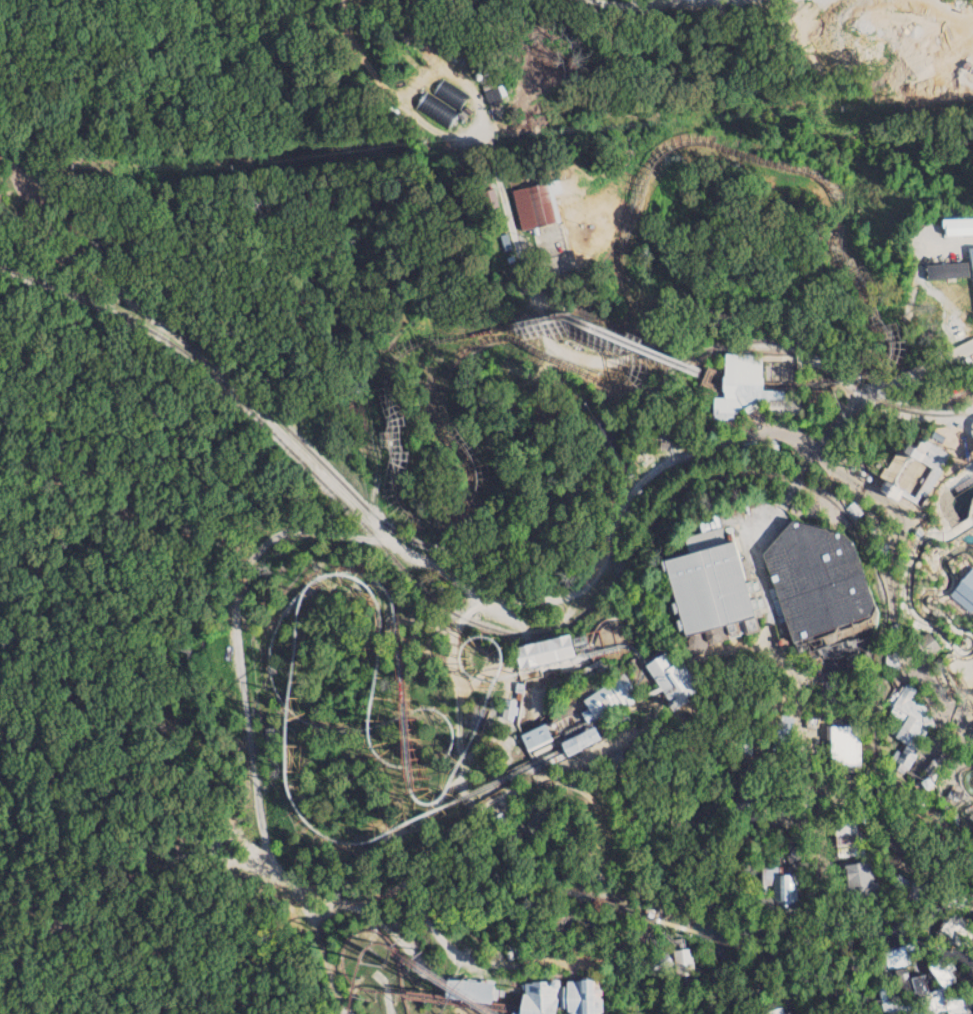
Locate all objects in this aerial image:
building: (449, 94)
building: (435, 109)
building: (531, 206)
building: (959, 227)
building: (971, 254)
building: (949, 270)
road: (921, 367)
building: (747, 389)
road: (972, 412)
road: (763, 420)
road: (732, 430)
road: (826, 434)
road: (864, 503)
building: (853, 510)
theme park: (639, 550)
road: (753, 550)
railway: (314, 578)
building: (814, 581)
building: (706, 584)
road: (514, 605)
building: (835, 636)
railway: (291, 638)
railway: (378, 639)
railway: (457, 648)
building: (925, 648)
building: (541, 652)
railway: (587, 654)
road: (743, 660)
road: (848, 662)
road: (912, 672)
road: (810, 675)
building: (670, 679)
railway: (486, 692)
railway: (276, 694)
road: (939, 694)
railway: (283, 696)
building: (608, 699)
railway: (399, 702)
road: (457, 703)
road: (812, 706)
road: (679, 708)
railway: (592, 711)
road: (743, 712)
railway: (363, 716)
railway: (399, 716)
road: (249, 718)
building: (908, 724)
railway: (362, 726)
road: (967, 731)
road: (814, 732)
building: (781, 733)
railway: (362, 737)
building: (536, 737)
road: (969, 738)
road: (932, 740)
railway: (399, 741)
building: (579, 741)
building: (843, 747)
road: (753, 760)
road: (809, 767)
building: (899, 769)
railway: (400, 774)
railway: (445, 777)
road: (949, 782)
building: (925, 784)
road: (825, 787)
road: (820, 792)
road: (785, 793)
road: (835, 805)
road: (787, 815)
road: (453, 824)
railway: (398, 827)
road: (734, 831)
road: (757, 841)
road: (910, 850)
road: (697, 871)
building: (860, 881)
building: (781, 885)
road: (663, 902)
road: (943, 915)
road: (833, 917)
road: (378, 926)
railway: (365, 930)
road: (765, 930)
road: (900, 938)
road: (750, 939)
road: (318, 944)
railway: (365, 951)
road: (746, 951)
road: (775, 958)
road: (553, 964)
road: (719, 970)
road: (971, 974)
railway: (347, 980)
road: (640, 982)
building: (921, 983)
railway: (434, 986)
building: (467, 991)
road: (817, 991)
building: (555, 997)
railway: (449, 1001)
road: (787, 1004)
railway: (346, 1005)
building: (775, 1011)
railway: (532, 1012)

